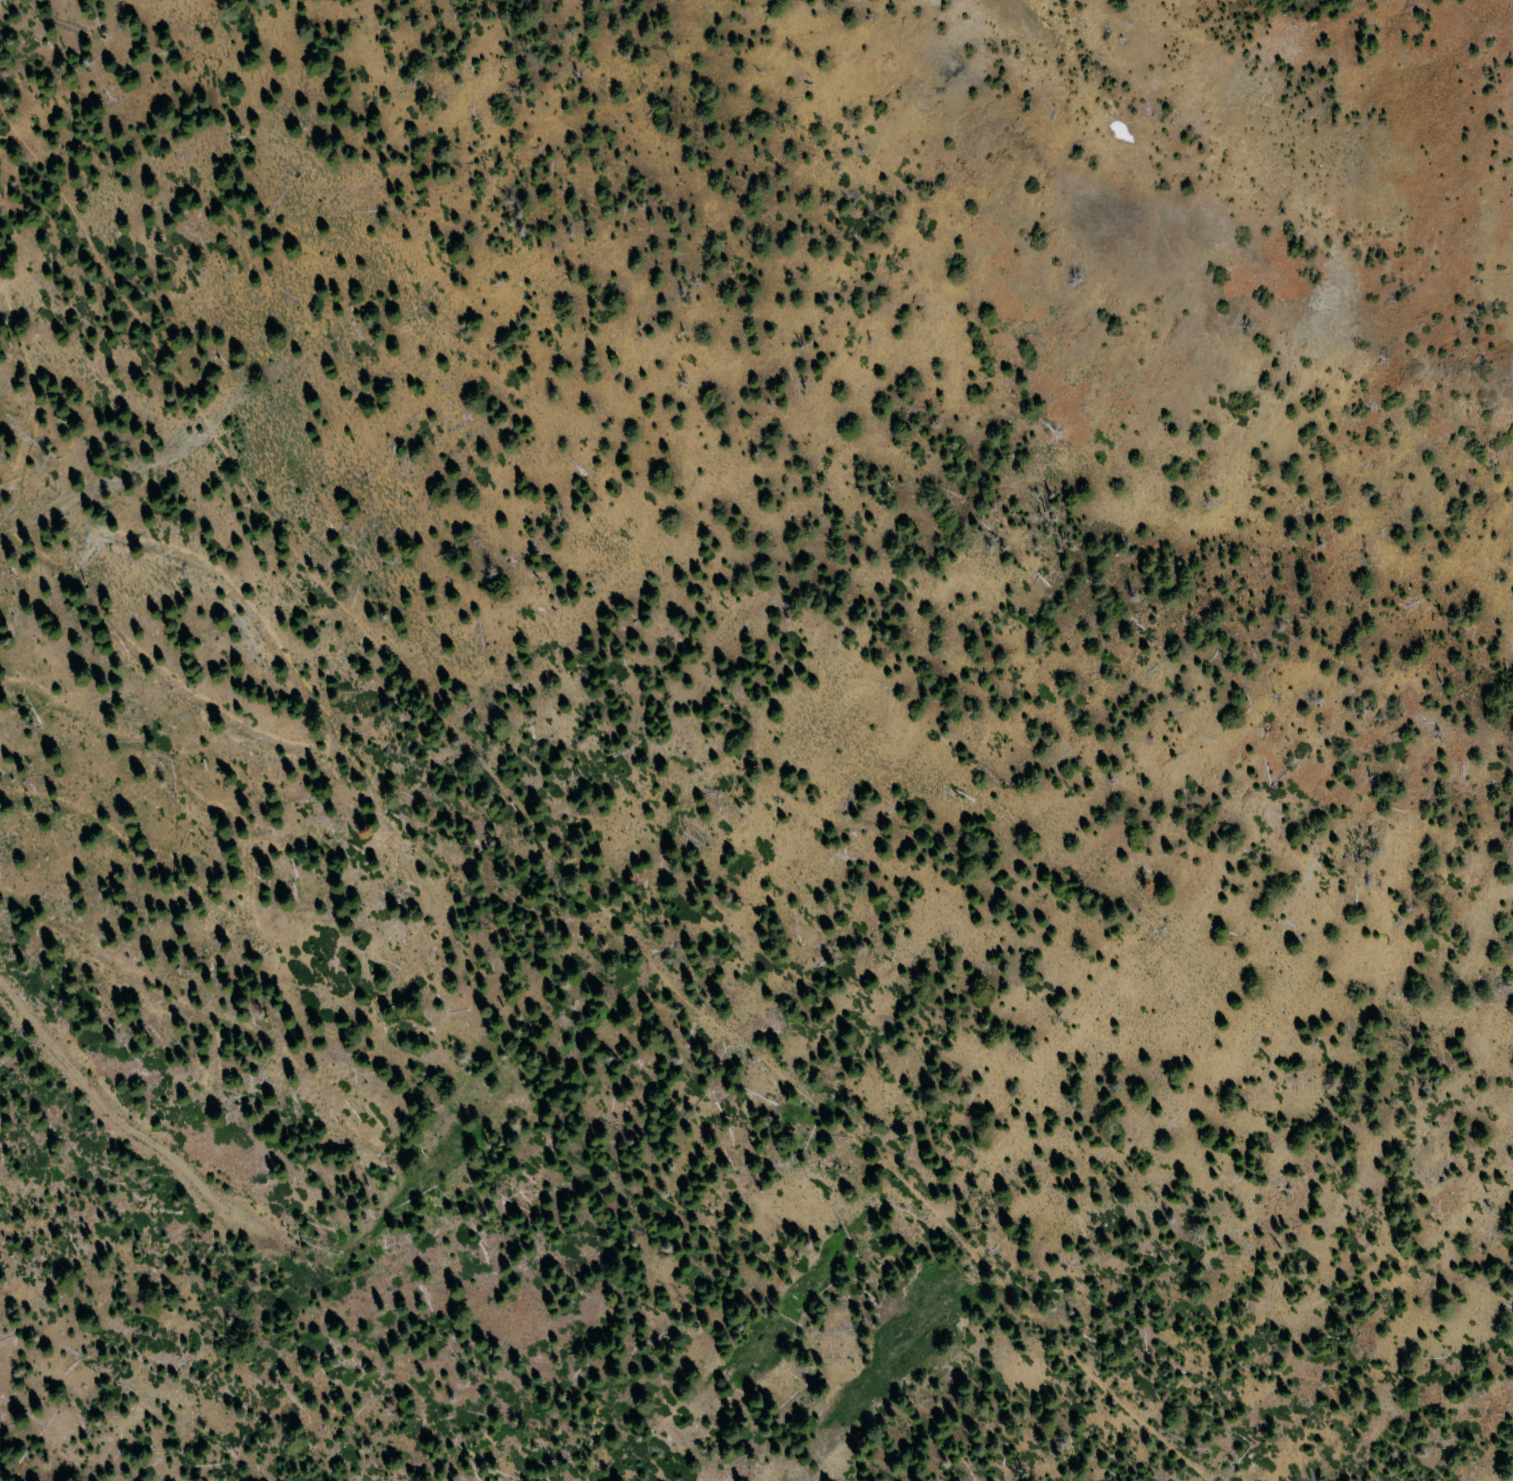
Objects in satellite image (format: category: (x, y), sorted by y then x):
road: (555, 858)
road: (94, 1072)
road: (22, 1465)

